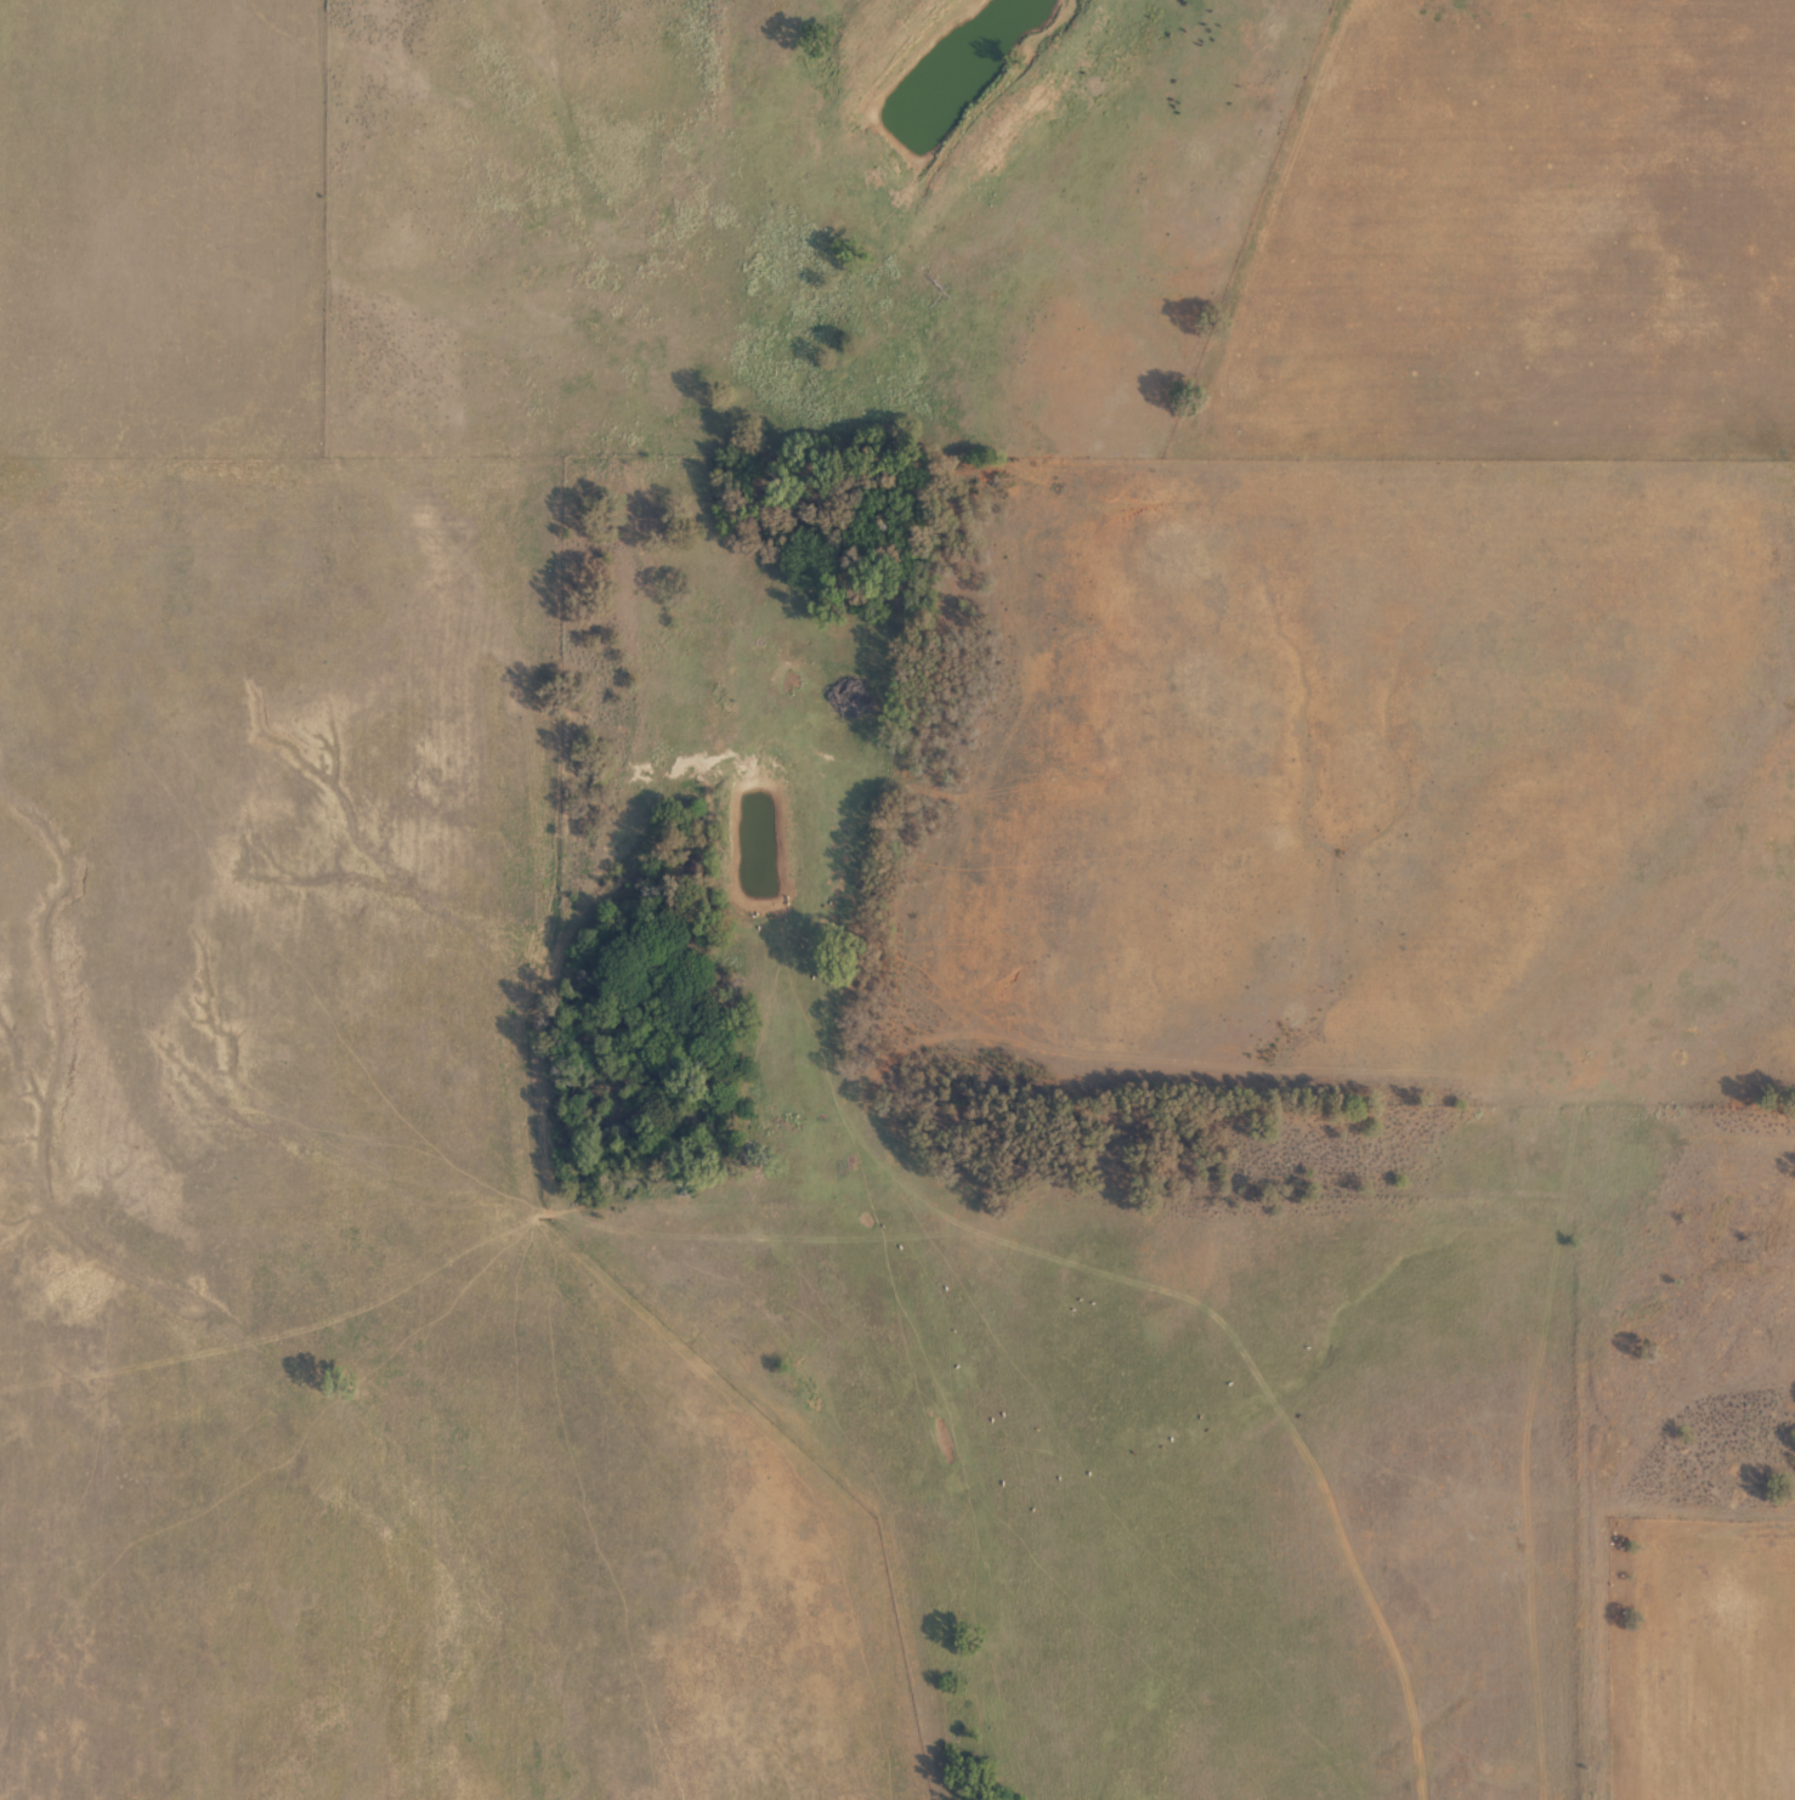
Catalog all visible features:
crop: (897, 900)

